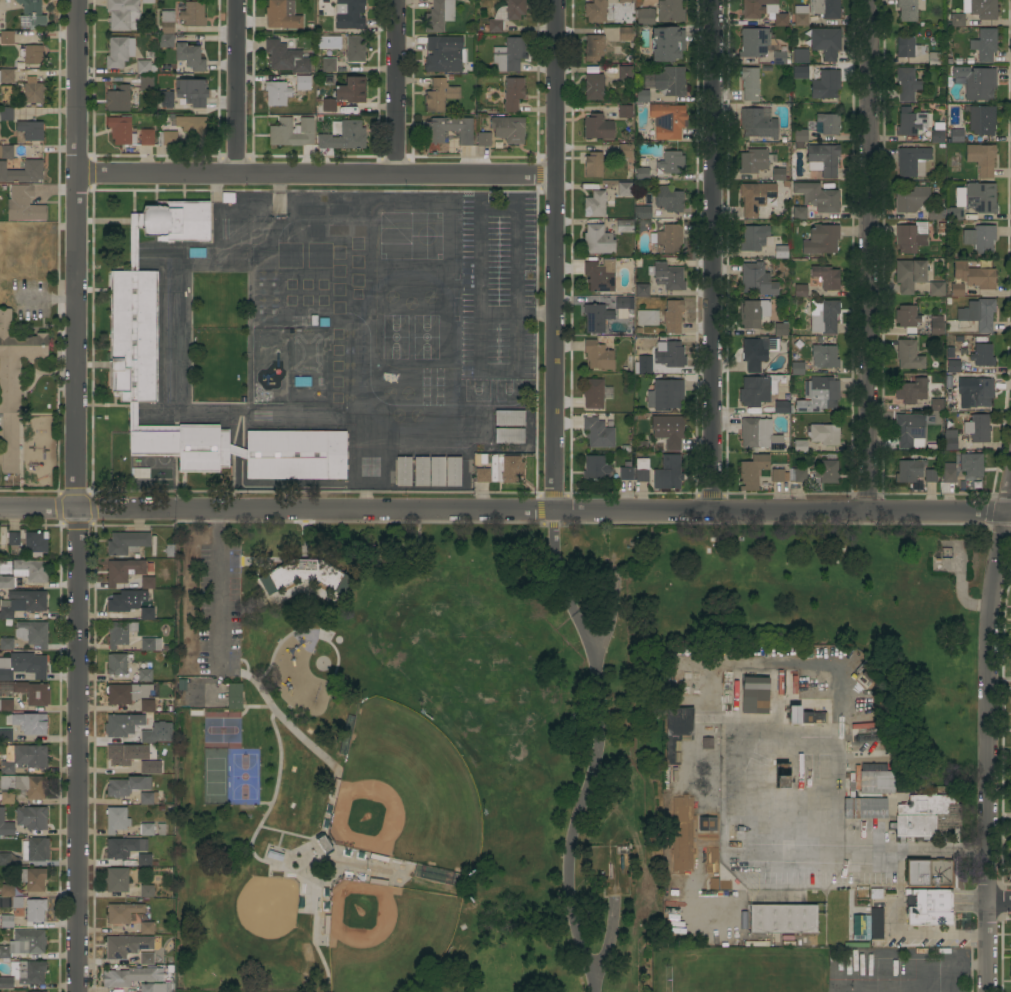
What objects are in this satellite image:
building: (147, 1)
building: (625, 1)
building: (754, 8)
building: (825, 8)
building: (983, 9)
building: (906, 10)
building: (597, 11)
building: (670, 11)
building: (31, 14)
building: (193, 14)
building: (281, 14)
building: (349, 14)
building: (123, 15)
building: (439, 15)
building: (505, 15)
building: (645, 16)
building: (780, 19)
building: (801, 20)
building: (957, 20)
building: (2, 26)
building: (166, 30)
building: (624, 34)
building: (6, 37)
building: (754, 42)
building: (826, 42)
building: (666, 44)
building: (984, 45)
building: (907, 47)
building: (594, 48)
building: (355, 49)
building: (118, 52)
building: (444, 54)
building: (32, 55)
building: (508, 55)
building: (800, 56)
building: (189, 57)
building: (286, 57)
building: (779, 58)
building: (936, 59)
building: (147, 64)
building: (328, 65)
building: (625, 73)
building: (800, 73)
building: (6, 76)
building: (304, 80)
building: (670, 81)
building: (145, 82)
building: (749, 83)
building: (906, 84)
building: (825, 85)
building: (978, 85)
building: (594, 86)
road: (232, 88)
road: (391, 88)
building: (350, 91)
building: (192, 92)
building: (33, 93)
building: (276, 93)
building: (513, 93)
building: (439, 95)
building: (642, 96)
building: (118, 99)
building: (165, 100)
building: (328, 105)
building: (625, 112)
building: (6, 114)
building: (982, 120)
building: (667, 121)
building: (757, 124)
building: (828, 124)
building: (911, 124)
building: (597, 127)
building: (192, 129)
building: (508, 129)
building: (448, 130)
building: (121, 131)
building: (28, 132)
building: (292, 132)
building: (343, 135)
building: (937, 136)
building: (956, 136)
building: (146, 137)
building: (168, 138)
building: (800, 138)
building: (484, 139)
building: (624, 151)
building: (6, 152)
building: (981, 159)
building: (823, 160)
building: (753, 161)
building: (912, 161)
building: (671, 162)
building: (593, 165)
building: (22, 172)
building: (642, 174)
road: (313, 176)
building: (779, 176)
building: (624, 190)
building: (755, 197)
building: (817, 197)
building: (980, 198)
building: (668, 199)
building: (911, 200)
building: (23, 204)
building: (595, 204)
building: (642, 212)
building: (799, 213)
building: (955, 213)
building: (935, 214)
building: (624, 226)
building: (753, 237)
building: (911, 237)
building: (669, 239)
building: (980, 239)
building: (598, 240)
building: (821, 240)
building: (781, 252)
building: (196, 253)
road: (552, 254)
road: (709, 254)
road: (864, 255)
road: (519, 266)
building: (909, 274)
building: (600, 275)
building: (668, 276)
building: (826, 276)
building: (974, 276)
building: (757, 279)
building: (936, 289)
building: (642, 290)
building: (956, 290)
building: (800, 291)
building: (621, 305)
building: (753, 313)
road: (499, 314)
road: (536, 314)
building: (977, 314)
building: (133, 315)
building: (672, 316)
building: (906, 316)
building: (825, 317)
building: (596, 318)
building: (646, 318)
building: (780, 329)
building: (936, 329)
building: (756, 352)
building: (598, 355)
building: (670, 355)
building: (908, 355)
building: (982, 355)
building: (826, 357)
building: (953, 366)
building: (642, 368)
building: (797, 368)
building: (302, 382)
building: (14, 384)
building: (757, 389)
building: (911, 390)
building: (980, 391)
building: (593, 394)
building: (665, 394)
building: (818, 394)
building: (936, 404)
building: (782, 407)
road: (186, 410)
building: (509, 418)
building: (977, 428)
building: (668, 431)
building: (909, 431)
building: (597, 433)
building: (824, 434)
building: (509, 435)
building: (759, 435)
building: (950, 440)
building: (800, 446)
building: (596, 467)
building: (505, 468)
building: (964, 469)
building: (403, 471)
building: (421, 471)
building: (437, 471)
building: (827, 471)
building: (909, 471)
building: (453, 472)
building: (660, 472)
building: (752, 472)
building: (140, 473)
building: (625, 473)
building: (481, 474)
building: (778, 475)
building: (797, 475)
building: (930, 475)
road: (75, 495)
road: (505, 509)
building: (13, 538)
building: (35, 542)
building: (126, 543)
building: (30, 570)
building: (123, 571)
building: (303, 575)
building: (6, 582)
building: (145, 582)
road: (217, 589)
building: (28, 600)
building: (129, 605)
building: (6, 610)
parking lot: (218, 613)
building: (32, 633)
building: (119, 633)
building: (6, 644)
building: (151, 644)
road: (611, 651)
road: (240, 659)
building: (116, 664)
building: (23, 666)
building: (144, 675)
building: (677, 687)
building: (32, 693)
building: (126, 693)
building: (755, 695)
building: (234, 696)
building: (6, 705)
building: (147, 706)
road: (256, 707)
building: (794, 716)
building: (805, 718)
building: (29, 723)
building: (678, 723)
building: (122, 725)
park: (503, 728)
building: (5, 736)
building: (147, 737)
road: (984, 737)
building: (707, 744)
road: (601, 748)
building: (672, 752)
building: (125, 754)
building: (25, 758)
road: (335, 766)
building: (150, 768)
building: (782, 775)
park: (214, 778)
park: (244, 779)
building: (871, 781)
building: (25, 785)
building: (127, 786)
building: (703, 786)
park: (406, 793)
building: (7, 798)
building: (148, 798)
road: (268, 803)
building: (863, 808)
building: (926, 816)
building: (31, 817)
building: (116, 819)
building: (707, 824)
building: (5, 826)
building: (146, 829)
road: (258, 829)
building: (1010, 829)
building: (681, 835)
building: (323, 842)
building: (124, 847)
building: (35, 849)
road: (328, 853)
road: (871, 855)
building: (274, 856)
building: (5, 859)
building: (144, 860)
building: (928, 873)
building: (35, 879)
building: (116, 880)
building: (712, 884)
building: (146, 891)
building: (876, 894)
building: (10, 895)
building: (679, 898)
road: (999, 903)
building: (930, 907)
building: (35, 909)
building: (122, 912)
building: (782, 919)
building: (6, 921)
building: (877, 924)
building: (146, 928)
park: (389, 942)
building: (715, 942)
building: (24, 943)
building: (126, 946)
road: (606, 952)
building: (147, 958)
building: (1010, 968)
building: (27, 971)
building: (131, 976)
building: (6, 983)
building: (155, 987)

